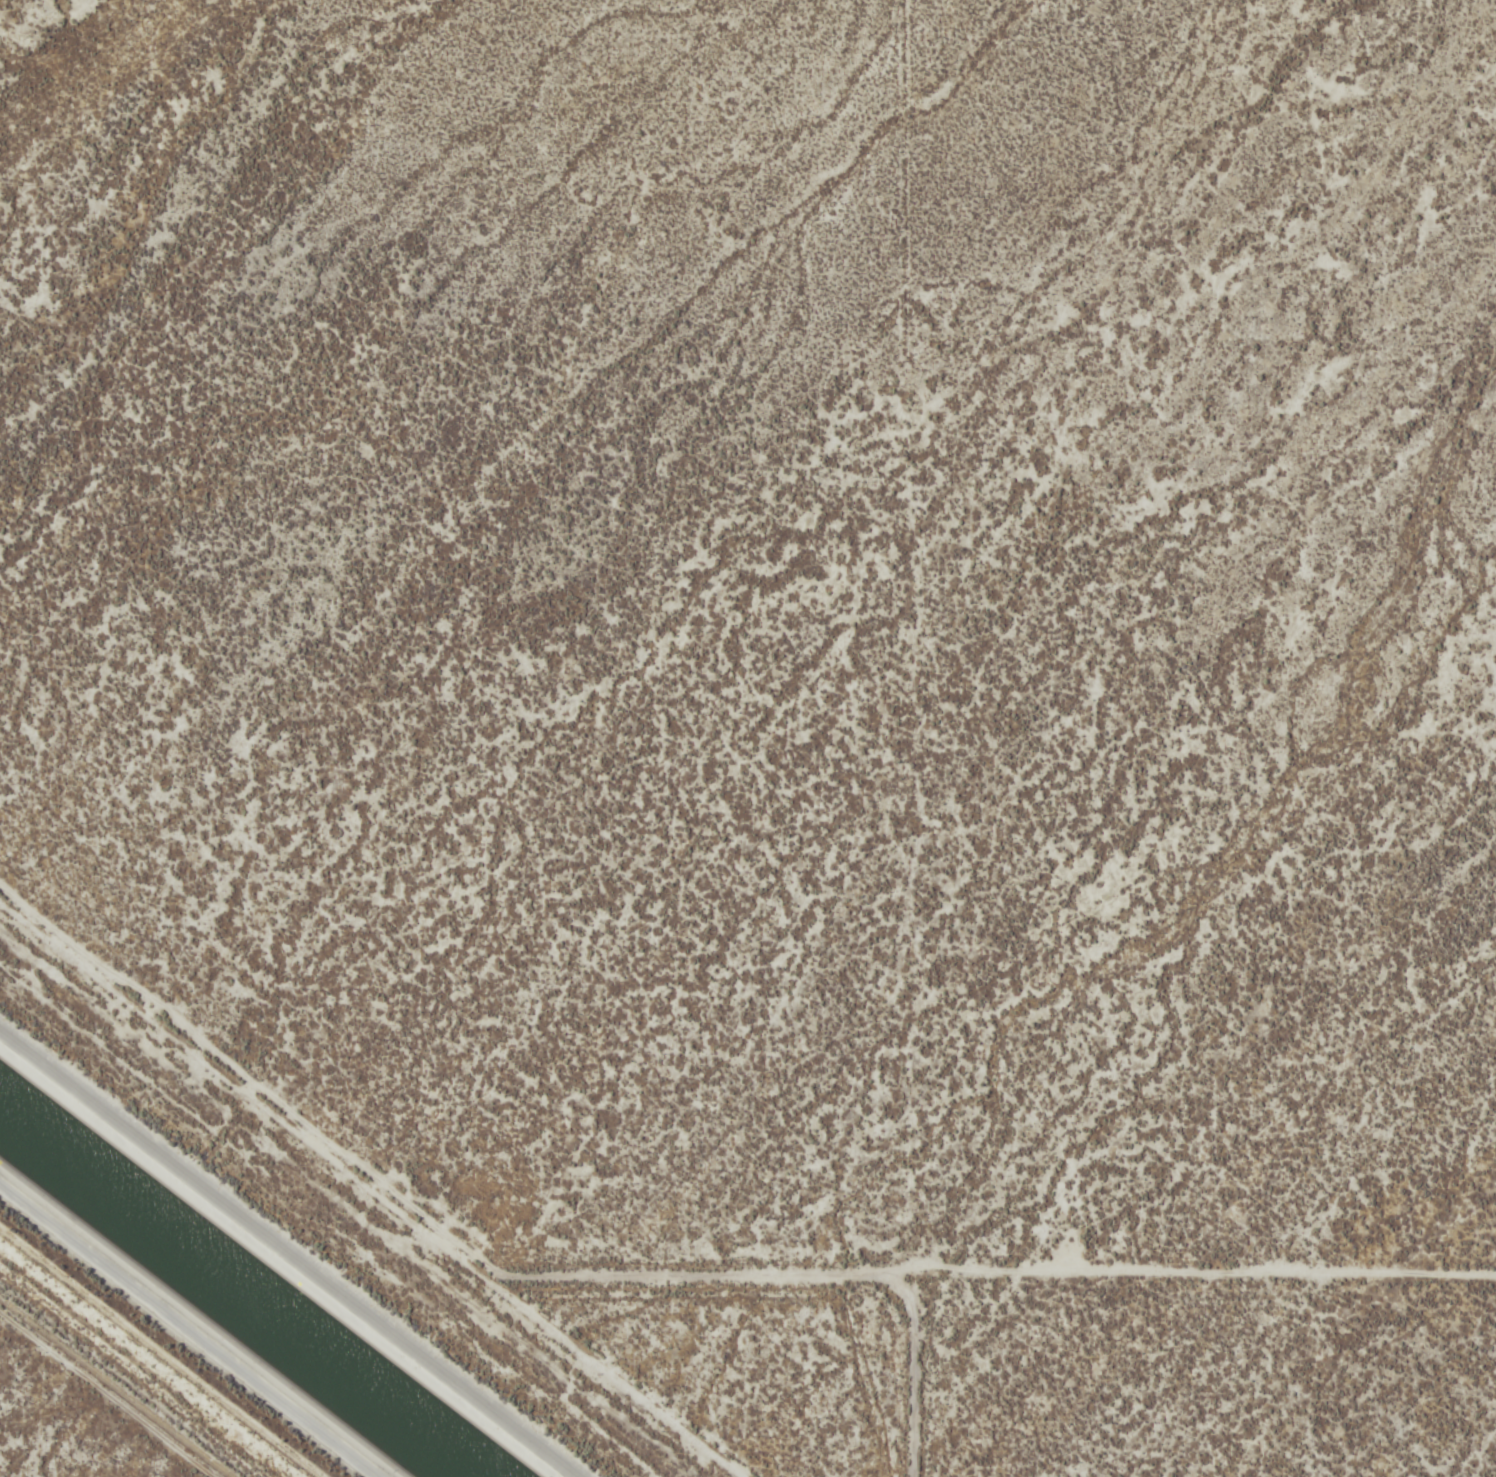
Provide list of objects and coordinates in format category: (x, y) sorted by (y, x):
crop: (808, 671)
road: (290, 1251)
road: (726, 1308)
road: (14, 1318)
road: (129, 1370)

